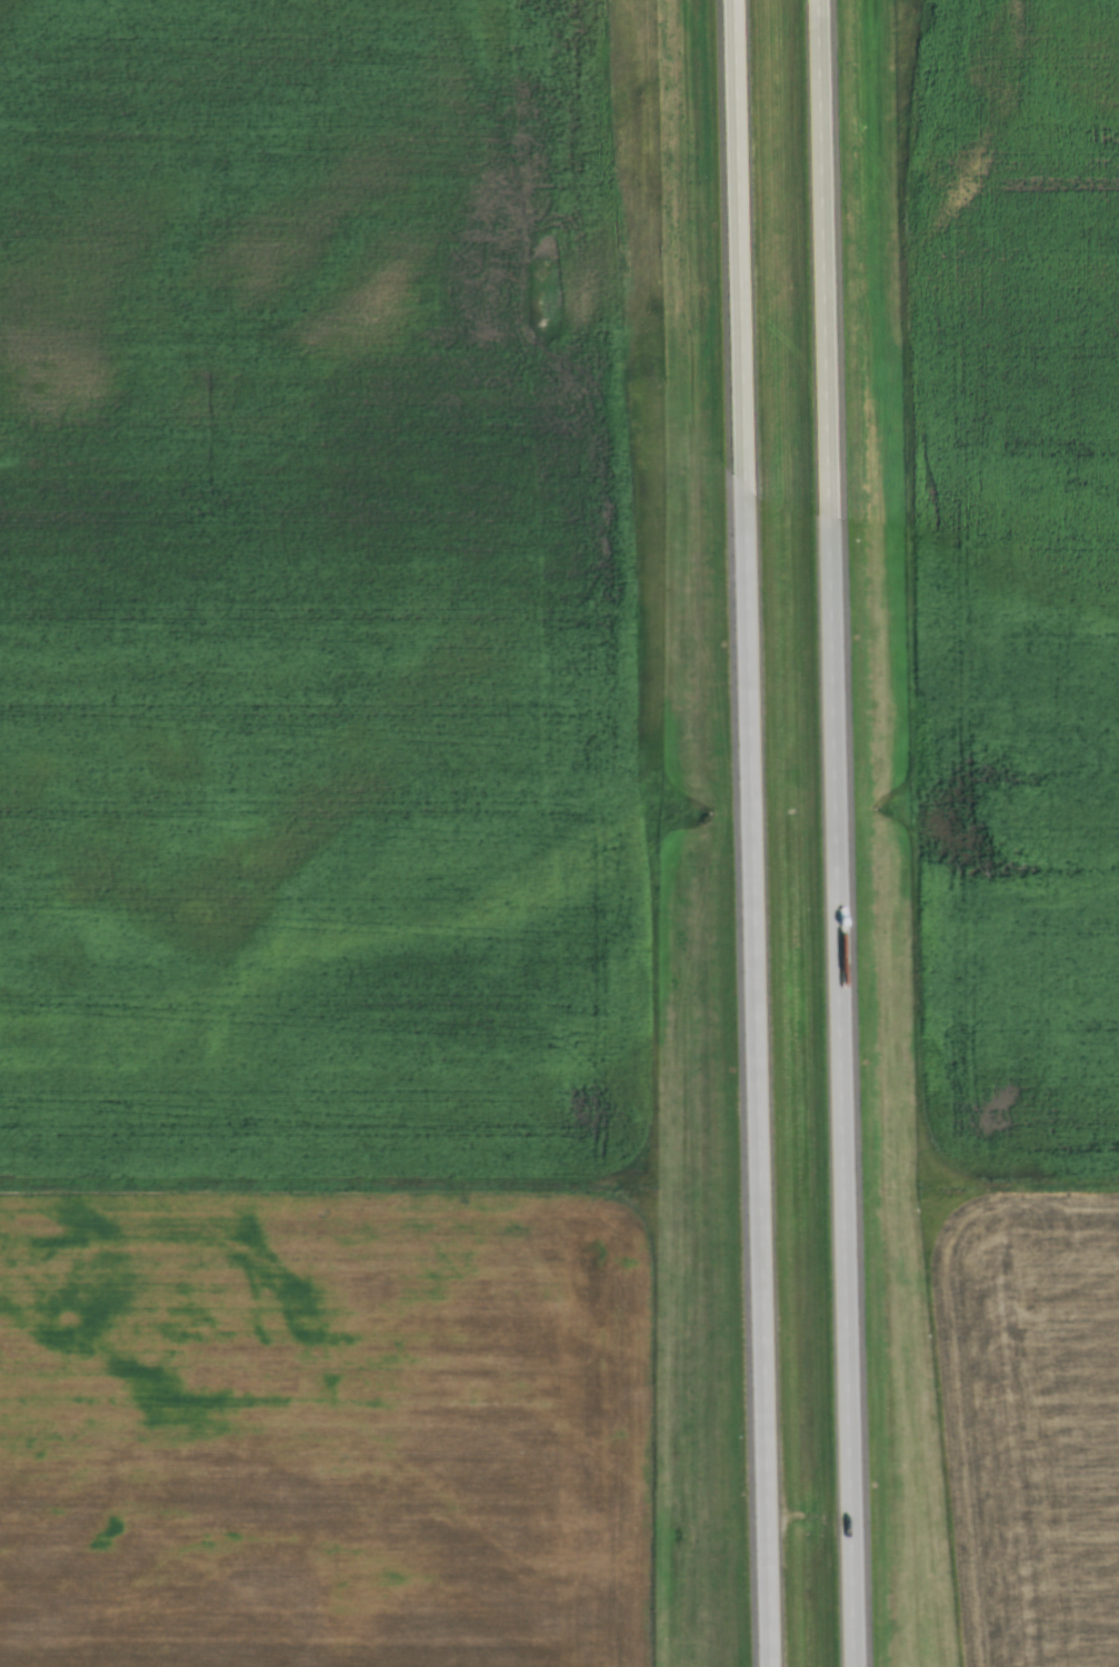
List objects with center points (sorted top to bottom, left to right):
road: (749, 833)
road: (843, 833)
road: (106, 1247)

